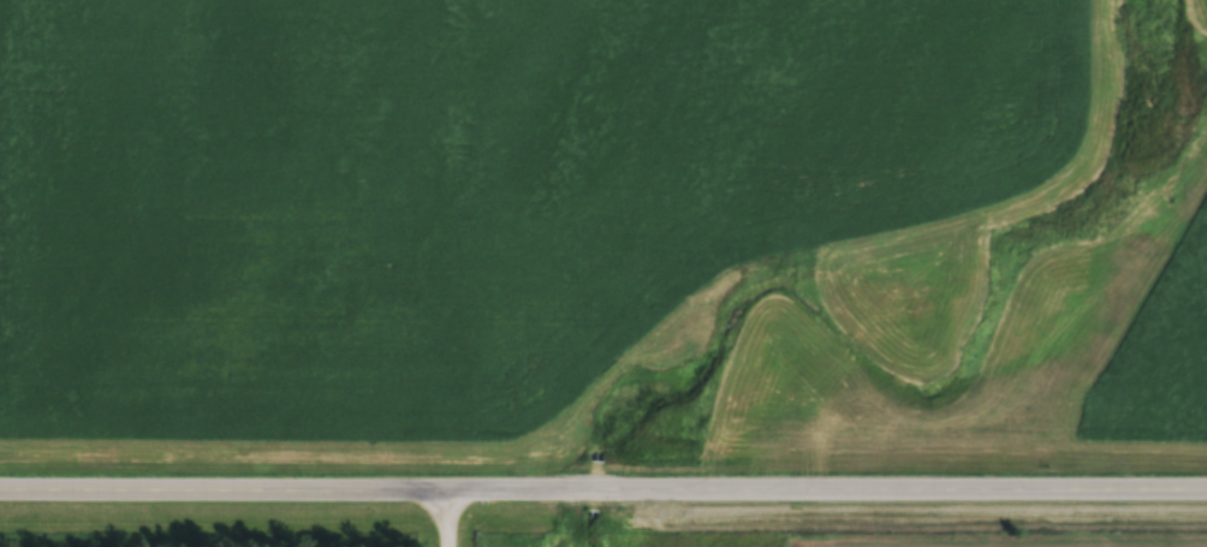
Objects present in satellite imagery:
road: (602, 489)
road: (446, 519)

